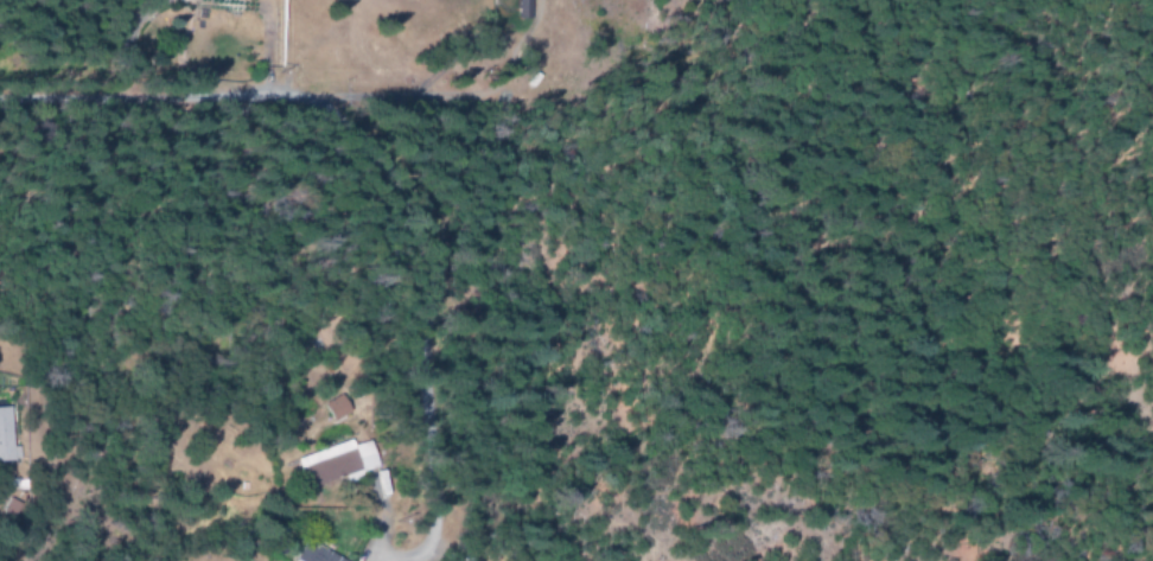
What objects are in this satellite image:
building: (518, 9)
road: (263, 47)
road: (205, 95)
building: (329, 410)
building: (5, 438)
building: (326, 465)

